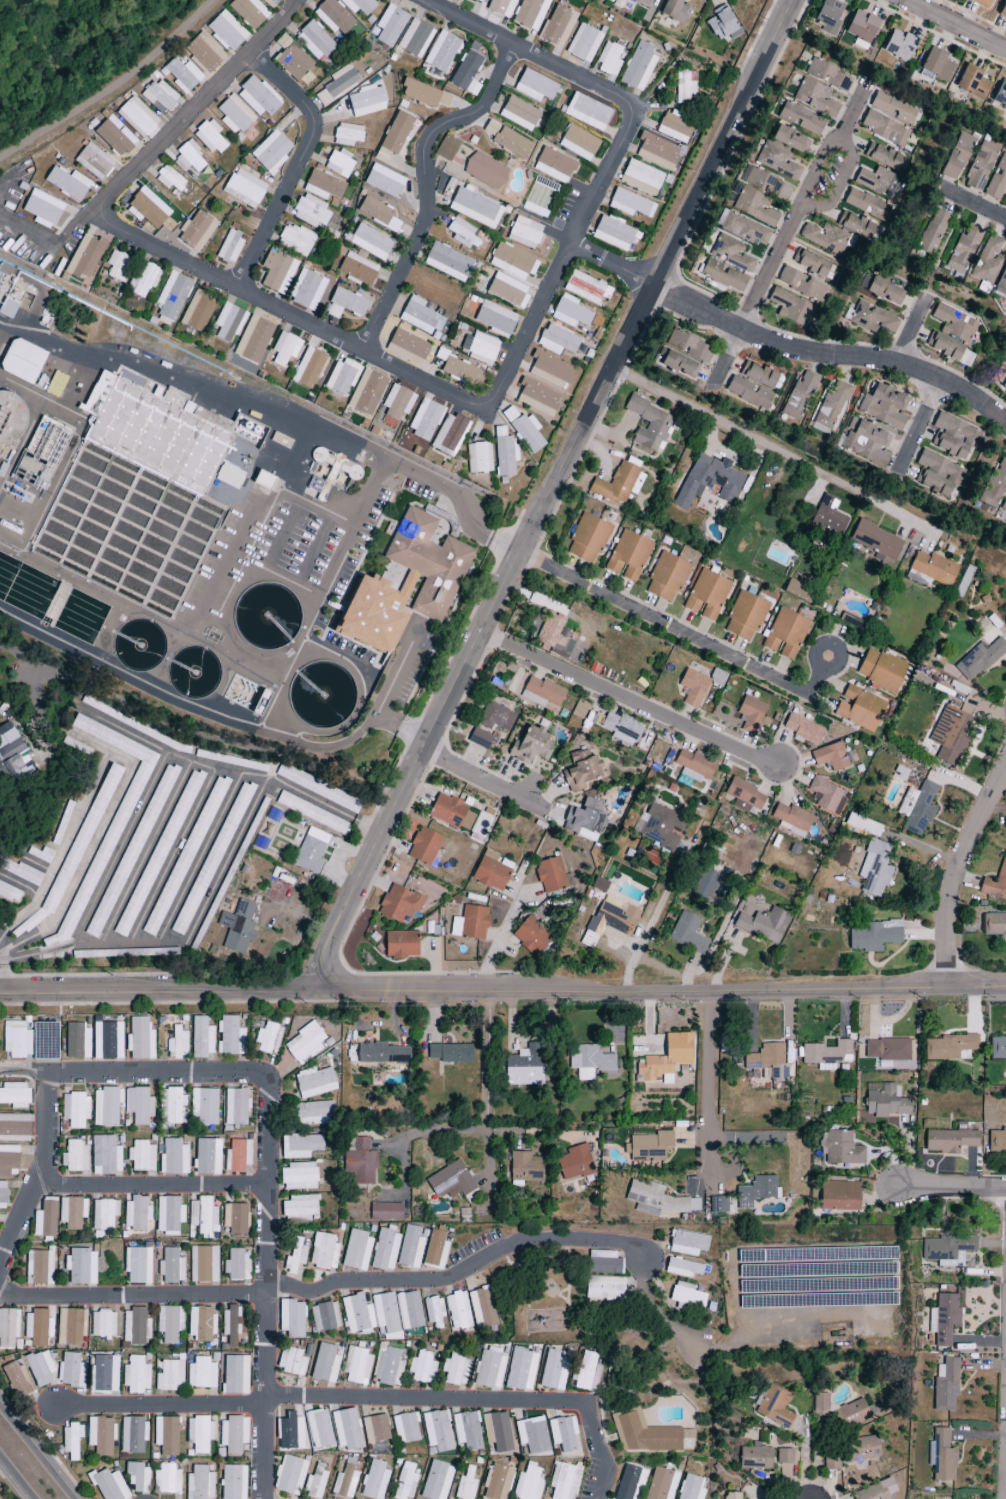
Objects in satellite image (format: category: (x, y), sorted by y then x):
building: (479, 1)
building: (271, 3)
building: (647, 3)
building: (982, 3)
building: (359, 6)
building: (502, 7)
building: (675, 10)
building: (1003, 10)
building: (248, 12)
building: (530, 13)
building: (828, 13)
building: (333, 17)
road: (953, 24)
building: (390, 25)
building: (723, 25)
building: (557, 26)
building: (861, 28)
building: (226, 32)
building: (415, 39)
building: (314, 41)
building: (583, 43)
building: (899, 46)
building: (441, 51)
building: (204, 52)
building: (291, 58)
building: (609, 59)
building: (638, 66)
building: (936, 66)
building: (466, 73)
building: (182, 75)
building: (828, 75)
building: (972, 82)
building: (338, 84)
road: (110, 85)
building: (535, 86)
building: (685, 87)
building: (423, 94)
building: (1000, 94)
building: (159, 97)
building: (259, 97)
building: (815, 98)
building: (366, 101)
road: (197, 106)
building: (893, 108)
building: (587, 112)
building: (519, 114)
building: (234, 115)
building: (137, 117)
building: (800, 118)
building: (675, 127)
building: (490, 128)
building: (884, 128)
building: (396, 133)
building: (347, 134)
building: (114, 136)
building: (209, 137)
building: (789, 139)
building: (511, 143)
building: (578, 143)
building: (446, 148)
building: (657, 151)
building: (271, 152)
building: (882, 156)
building: (956, 156)
building: (188, 157)
building: (93, 160)
building: (776, 161)
building: (339, 164)
road: (298, 165)
building: (553, 165)
building: (980, 165)
building: (485, 171)
building: (641, 178)
building: (169, 179)
building: (997, 180)
building: (384, 181)
building: (67, 183)
road: (838, 183)
building: (880, 183)
building: (766, 184)
building: (323, 185)
road: (426, 186)
building: (244, 188)
road: (977, 203)
building: (630, 204)
building: (866, 204)
building: (754, 207)
building: (475, 208)
building: (42, 209)
building: (147, 209)
building: (311, 212)
building: (378, 214)
building: (855, 224)
building: (741, 228)
building: (196, 231)
road: (786, 231)
building: (932, 232)
building: (524, 233)
building: (463, 234)
building: (615, 234)
road: (85, 238)
building: (824, 238)
building: (295, 240)
building: (370, 242)
building: (230, 247)
building: (963, 250)
building: (731, 253)
building: (84, 257)
building: (987, 260)
building: (448, 262)
building: (512, 262)
building: (810, 263)
road: (611, 265)
building: (117, 266)
building: (357, 269)
building: (277, 271)
building: (723, 276)
building: (143, 278)
building: (1002, 282)
building: (800, 284)
building: (585, 288)
building: (508, 290)
building: (880, 290)
building: (431, 291)
building: (172, 296)
building: (345, 304)
building: (8, 308)
building: (791, 308)
building: (198, 310)
building: (570, 313)
building: (420, 316)
building: (495, 319)
building: (871, 319)
building: (229, 322)
building: (955, 323)
road: (0, 324)
road: (0, 325)
road: (908, 331)
building: (557, 339)
building: (253, 340)
building: (688, 346)
building: (407, 347)
building: (285, 348)
building: (480, 348)
road: (830, 348)
building: (949, 349)
road: (518, 350)
building: (22, 361)
building: (676, 363)
building: (308, 368)
building: (549, 369)
building: (463, 372)
building: (758, 374)
building: (341, 378)
building: (1003, 380)
building: (56, 384)
building: (366, 392)
building: (748, 394)
building: (799, 396)
building: (537, 397)
building: (397, 402)
road: (277, 403)
building: (831, 406)
building: (883, 407)
building: (425, 419)
building: (649, 423)
road: (915, 423)
building: (1, 425)
building: (154, 428)
building: (524, 429)
building: (248, 430)
building: (449, 434)
building: (863, 436)
building: (953, 437)
road: (772, 450)
building: (504, 452)
building: (42, 453)
building: (478, 457)
building: (937, 474)
building: (229, 476)
building: (263, 479)
building: (709, 481)
building: (618, 484)
building: (994, 486)
road: (5, 491)
road: (550, 491)
building: (1004, 506)
road: (29, 523)
building: (826, 525)
road: (10, 537)
building: (587, 538)
wastewater plant: (222, 541)
building: (876, 542)
building: (628, 556)
building: (428, 562)
building: (931, 570)
building: (666, 578)
building: (798, 591)
building: (707, 595)
building: (745, 617)
building: (550, 632)
road: (684, 634)
building: (785, 634)
building: (979, 659)
building: (881, 670)
road: (388, 687)
building: (694, 688)
building: (546, 692)
road: (167, 699)
building: (261, 702)
road: (628, 702)
building: (859, 708)
building: (751, 715)
building: (497, 717)
building: (125, 721)
road: (401, 727)
building: (624, 728)
building: (804, 730)
building: (949, 735)
building: (480, 739)
building: (531, 745)
building: (13, 753)
building: (831, 757)
building: (695, 764)
building: (582, 770)
road: (487, 779)
building: (318, 788)
road: (147, 789)
building: (826, 794)
building: (745, 795)
road: (994, 807)
building: (917, 808)
building: (447, 810)
building: (318, 816)
building: (793, 817)
building: (584, 820)
building: (858, 823)
building: (662, 828)
building: (81, 838)
building: (424, 847)
building: (104, 848)
building: (131, 851)
building: (310, 851)
building: (158, 854)
road: (958, 866)
building: (874, 869)
building: (491, 871)
building: (20, 872)
building: (551, 875)
building: (995, 884)
building: (599, 885)
building: (707, 885)
building: (10, 893)
building: (401, 904)
building: (244, 909)
road: (657, 915)
building: (609, 920)
building: (474, 923)
building: (763, 925)
building: (994, 925)
building: (687, 933)
road: (929, 934)
building: (874, 936)
building: (531, 937)
building: (239, 938)
road: (500, 941)
building: (402, 945)
road: (702, 966)
road: (684, 982)
road: (503, 988)
building: (230, 1036)
building: (201, 1038)
building: (267, 1038)
building: (140, 1039)
building: (77, 1040)
building: (107, 1040)
building: (16, 1041)
building: (45, 1041)
building: (177, 1044)
building: (304, 1044)
building: (948, 1047)
building: (997, 1047)
building: (887, 1050)
building: (450, 1053)
building: (827, 1053)
building: (381, 1054)
building: (667, 1059)
building: (767, 1060)
building: (590, 1062)
building: (524, 1066)
road: (711, 1080)
building: (314, 1082)
road: (483, 1083)
building: (14, 1095)
building: (884, 1101)
building: (138, 1105)
building: (105, 1107)
building: (172, 1107)
building: (204, 1107)
building: (236, 1107)
building: (75, 1109)
building: (745, 1110)
building: (314, 1113)
building: (14, 1128)
road: (533, 1131)
road: (436, 1132)
building: (949, 1141)
building: (996, 1143)
building: (648, 1145)
building: (300, 1146)
road: (44, 1149)
building: (841, 1149)
building: (105, 1156)
building: (141, 1156)
building: (207, 1156)
building: (238, 1156)
building: (74, 1157)
road: (266, 1157)
building: (174, 1158)
building: (9, 1160)
building: (360, 1162)
building: (575, 1163)
building: (525, 1167)
building: (298, 1177)
building: (450, 1181)
road: (149, 1184)
building: (758, 1190)
road: (951, 1190)
building: (3, 1195)
building: (839, 1196)
building: (657, 1200)
building: (718, 1205)
building: (299, 1207)
building: (385, 1211)
building: (72, 1212)
building: (137, 1213)
building: (104, 1214)
building: (203, 1215)
building: (235, 1219)
building: (45, 1220)
building: (687, 1243)
building: (410, 1247)
building: (384, 1250)
building: (435, 1250)
building: (947, 1250)
building: (356, 1251)
building: (323, 1252)
building: (295, 1257)
building: (603, 1263)
building: (203, 1264)
building: (138, 1265)
building: (237, 1265)
building: (81, 1266)
building: (171, 1266)
building: (39, 1268)
building: (682, 1268)
road: (459, 1274)
building: (604, 1288)
building: (687, 1297)
road: (133, 1298)
building: (482, 1308)
building: (409, 1310)
building: (457, 1311)
building: (357, 1313)
building: (434, 1313)
building: (386, 1315)
building: (324, 1316)
building: (291, 1319)
building: (943, 1319)
building: (169, 1323)
building: (201, 1323)
building: (102, 1324)
building: (70, 1326)
building: (230, 1326)
building: (136, 1327)
building: (8, 1328)
building: (37, 1328)
road: (704, 1350)
building: (291, 1362)
building: (325, 1364)
building: (356, 1366)
building: (40, 1367)
building: (388, 1367)
building: (422, 1368)
building: (455, 1368)
building: (71, 1370)
building: (489, 1370)
building: (521, 1370)
building: (553, 1370)
building: (201, 1373)
building: (586, 1373)
building: (105, 1374)
building: (136, 1375)
building: (235, 1375)
building: (170, 1376)
building: (17, 1379)
building: (945, 1385)
road: (475, 1399)
road: (159, 1405)
building: (774, 1406)
building: (843, 1410)
building: (406, 1428)
building: (319, 1429)
building: (346, 1429)
building: (375, 1429)
building: (467, 1431)
building: (290, 1432)
building: (437, 1432)
building: (497, 1432)
building: (563, 1433)
building: (132, 1434)
building: (199, 1434)
building: (233, 1434)
building: (101, 1435)
building: (532, 1435)
building: (647, 1435)
building: (166, 1436)
building: (71, 1440)
building: (861, 1449)
road: (37, 1450)
building: (941, 1456)
building: (755, 1457)
building: (831, 1462)
building: (787, 1464)
building: (289, 1475)
building: (137, 1477)
road: (14, 1480)
building: (167, 1480)
building: (374, 1480)
building: (436, 1480)
building: (564, 1481)
building: (232, 1482)
building: (315, 1482)
building: (345, 1482)
building: (405, 1482)
building: (497, 1482)
building: (629, 1482)
building: (199, 1483)
building: (528, 1483)
building: (661, 1484)
building: (108, 1485)
building: (466, 1485)
building: (690, 1488)
building: (875, 1491)
building: (731, 1496)

